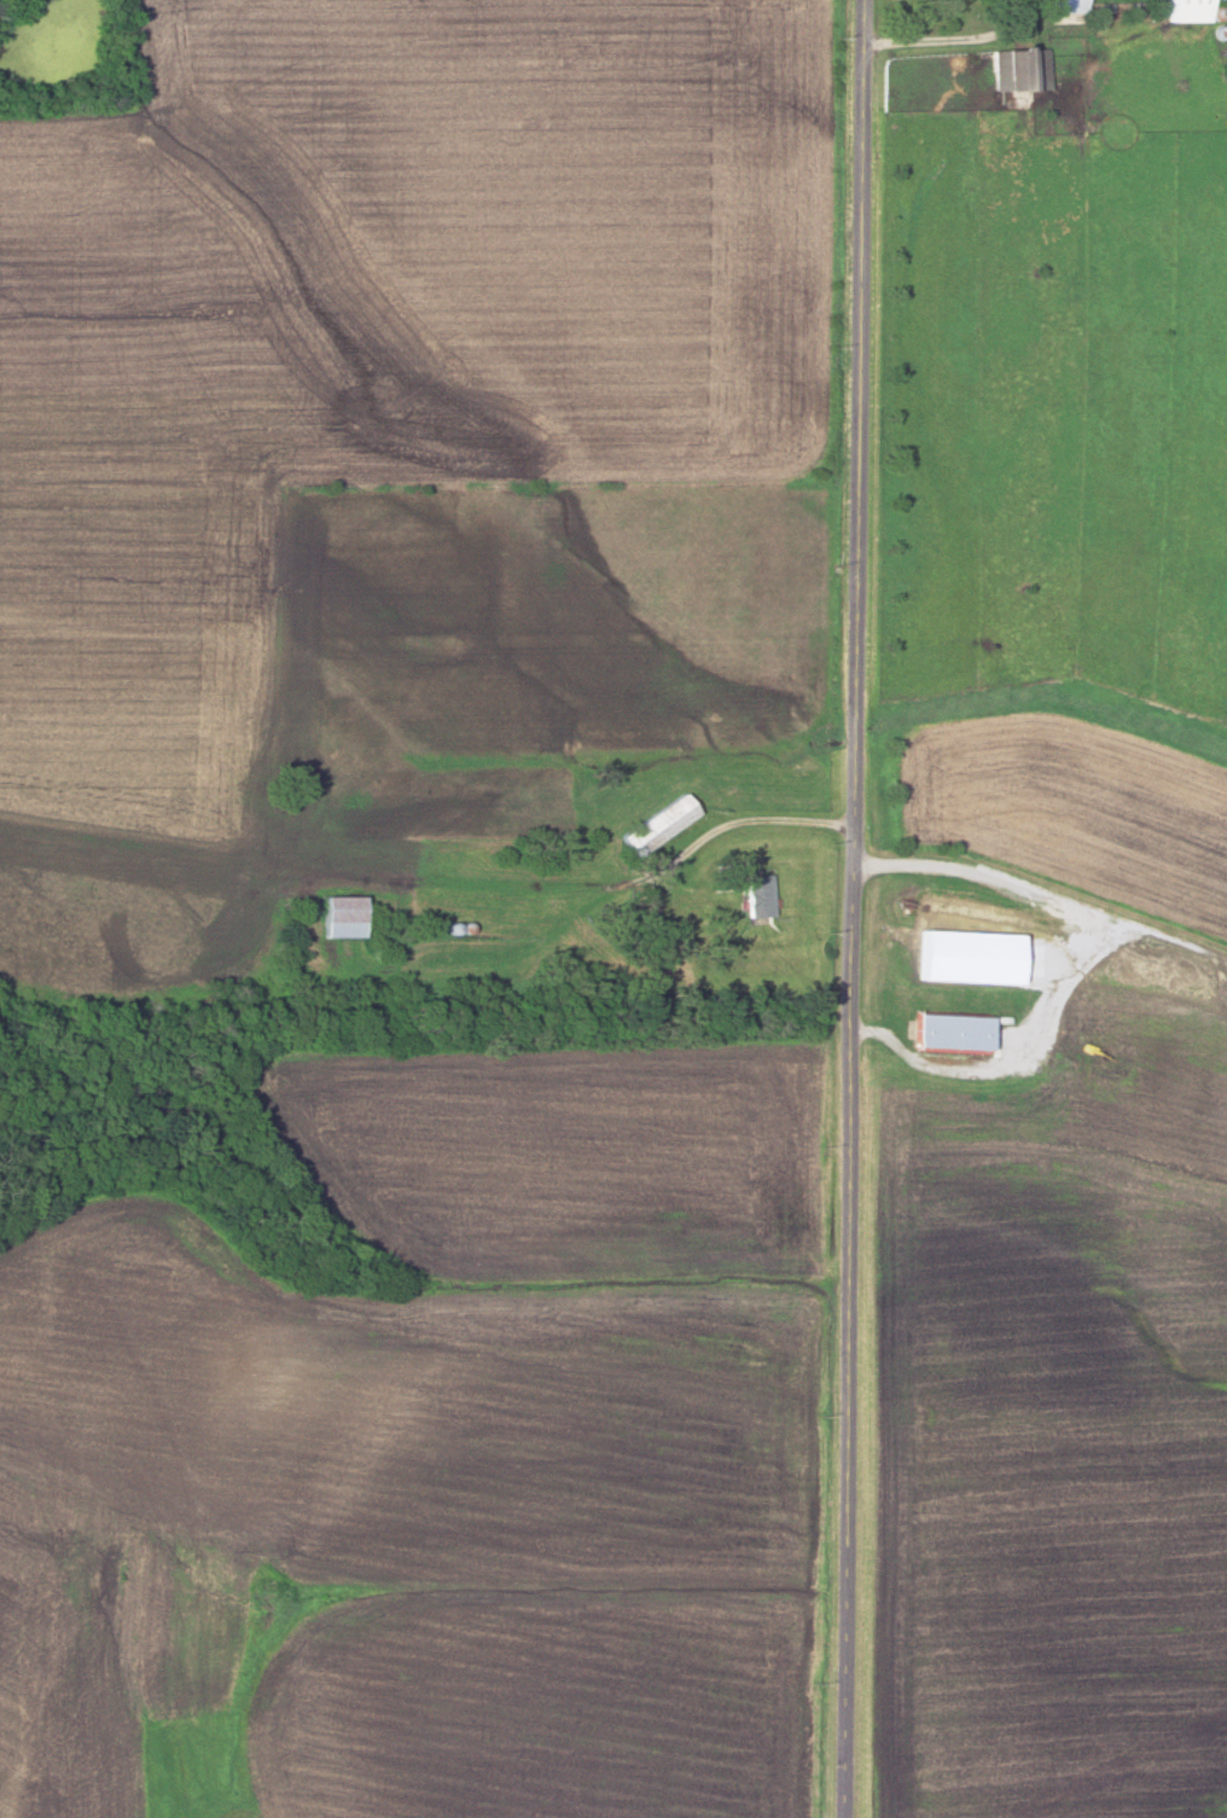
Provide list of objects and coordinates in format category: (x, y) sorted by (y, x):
building: (1070, 7)
building: (1194, 10)
road: (955, 40)
building: (1023, 68)
road: (752, 820)
building: (662, 823)
building: (761, 894)
road: (856, 908)
building: (345, 914)
road: (1129, 929)
road: (1048, 975)
building: (960, 1030)

